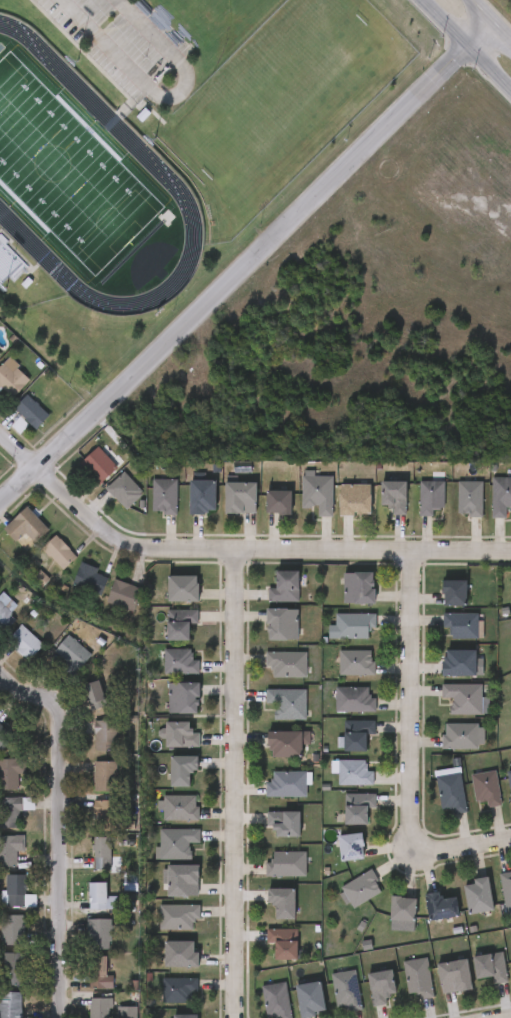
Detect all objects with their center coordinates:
road: (490, 20)
road: (468, 44)
park: (287, 94)
road: (161, 95)
park: (69, 173)
road: (246, 263)
building: (11, 378)
building: (31, 412)
building: (95, 465)
building: (121, 490)
building: (320, 493)
building: (395, 495)
building: (166, 496)
road: (68, 497)
building: (203, 497)
building: (432, 497)
building: (502, 497)
building: (241, 498)
building: (471, 498)
building: (356, 500)
building: (279, 502)
building: (26, 526)
road: (327, 550)
building: (59, 552)
building: (90, 579)
building: (286, 586)
building: (184, 588)
building: (360, 588)
building: (455, 592)
building: (124, 595)
building: (5, 618)
building: (180, 623)
building: (283, 624)
building: (462, 624)
building: (353, 625)
building: (25, 642)
building: (73, 652)
building: (179, 661)
building: (358, 662)
building: (459, 663)
building: (288, 664)
building: (95, 695)
building: (185, 698)
building: (464, 698)
building: (355, 700)
building: (289, 703)
road: (410, 704)
building: (357, 734)
building: (106, 735)
building: (180, 735)
building: (460, 736)
building: (5, 738)
building: (287, 743)
building: (182, 770)
building: (10, 773)
building: (355, 773)
building: (106, 776)
building: (510, 779)
road: (233, 783)
building: (288, 783)
building: (487, 788)
building: (452, 792)
building: (180, 808)
building: (358, 808)
building: (13, 811)
building: (107, 814)
building: (284, 824)
road: (60, 826)
building: (176, 842)
building: (351, 847)
road: (464, 847)
building: (10, 852)
building: (103, 852)
building: (288, 863)
building: (184, 881)
building: (363, 888)
building: (15, 890)
building: (506, 890)
building: (100, 896)
building: (478, 896)
building: (282, 902)
building: (440, 906)
building: (402, 909)
building: (178, 916)
building: (11, 930)
building: (99, 934)
building: (284, 943)
building: (181, 955)
building: (490, 967)
building: (12, 969)
building: (100, 972)
building: (454, 976)
building: (417, 977)
building: (382, 986)
building: (178, 988)
building: (346, 990)
building: (311, 999)
building: (276, 1000)
building: (10, 1004)
building: (185, 1017)
road: (507, 1017)

